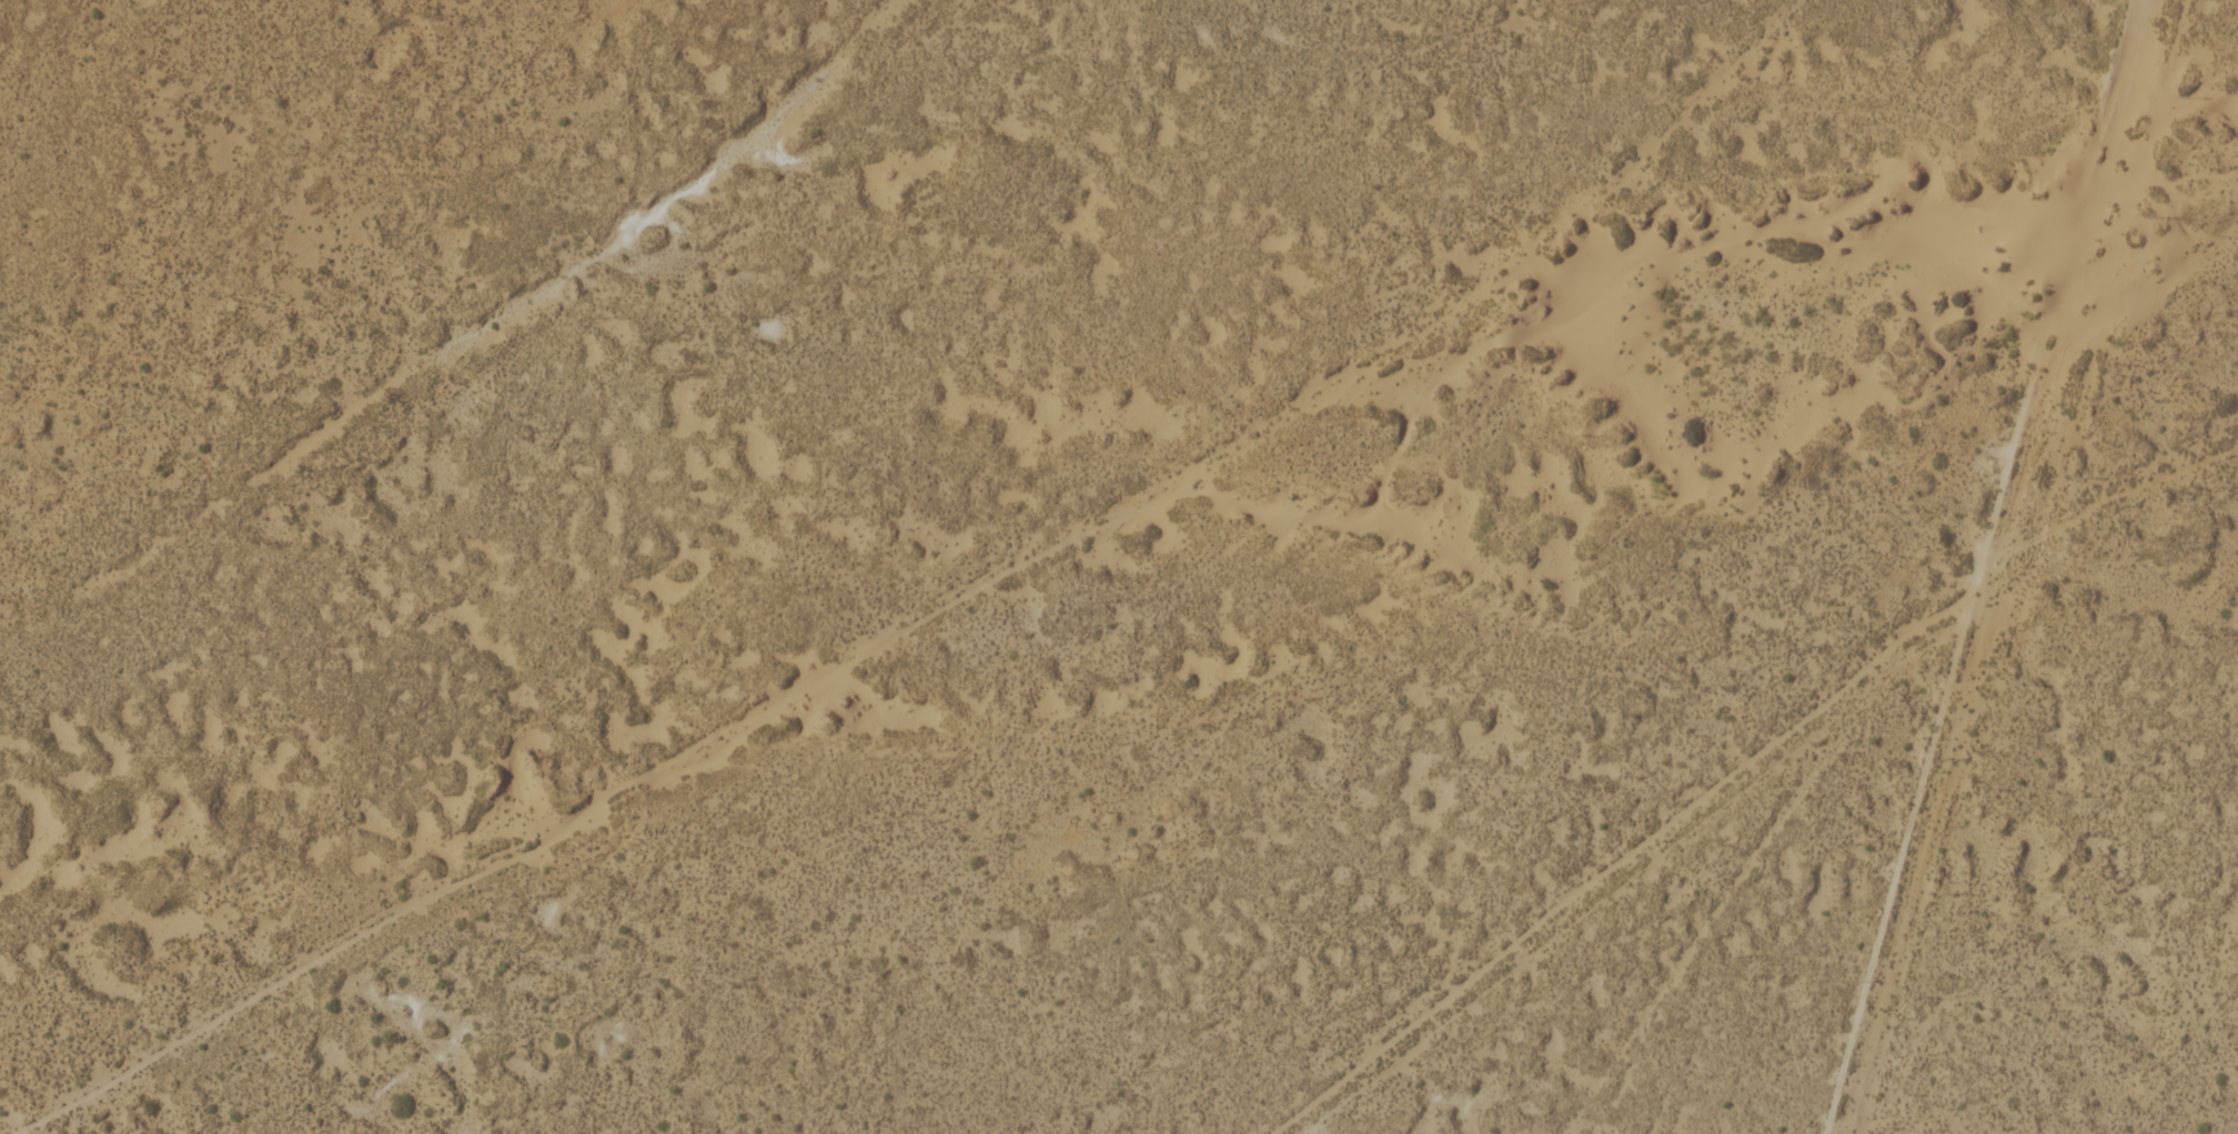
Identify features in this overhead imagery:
road: (1984, 567)

